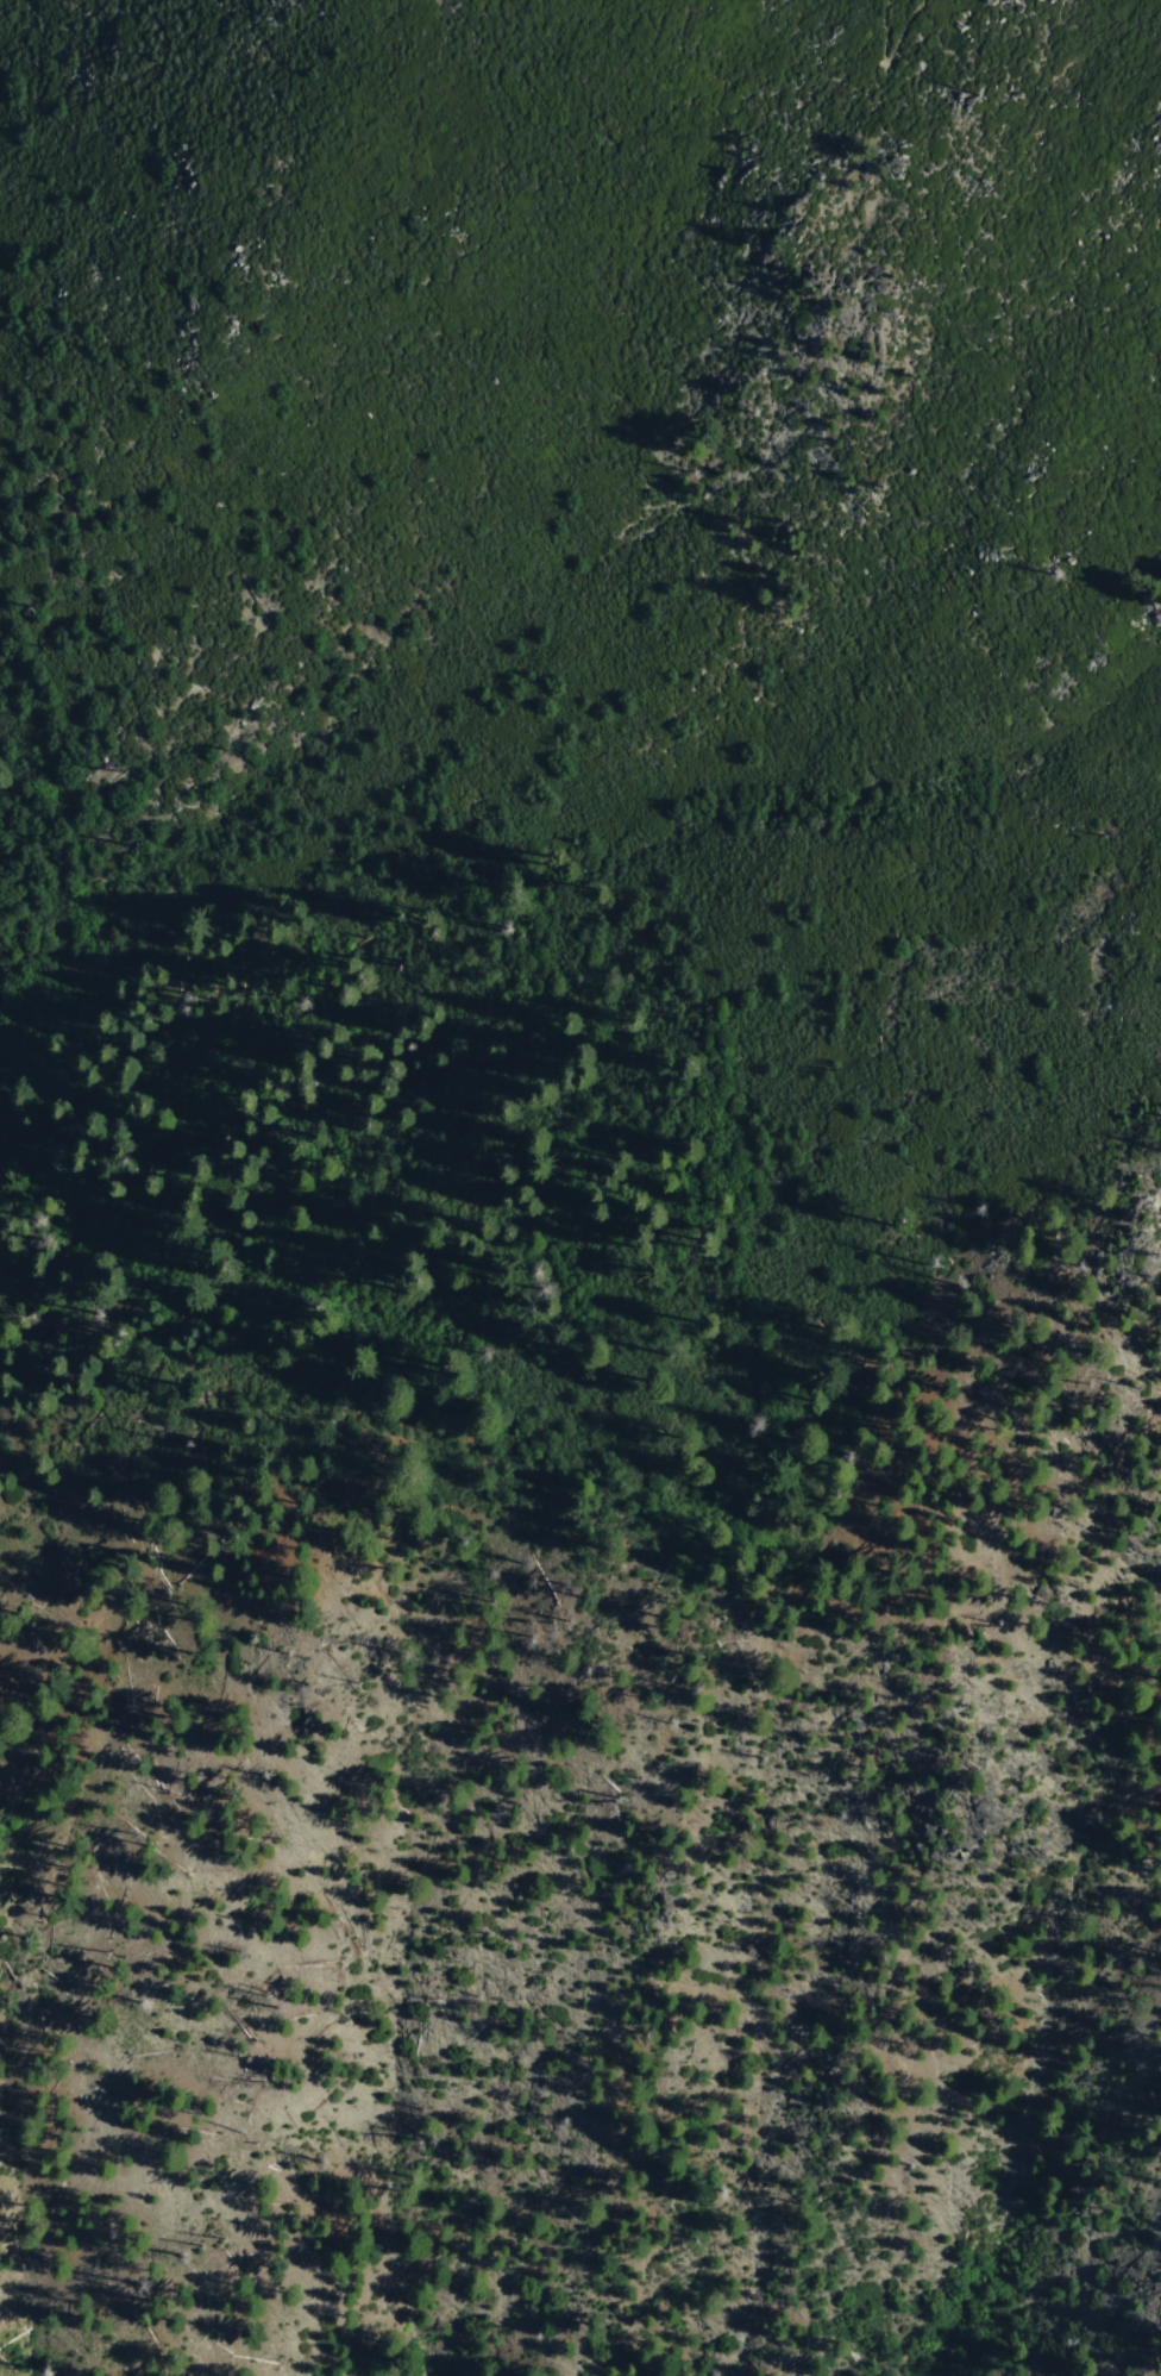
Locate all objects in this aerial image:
road: (883, 55)

